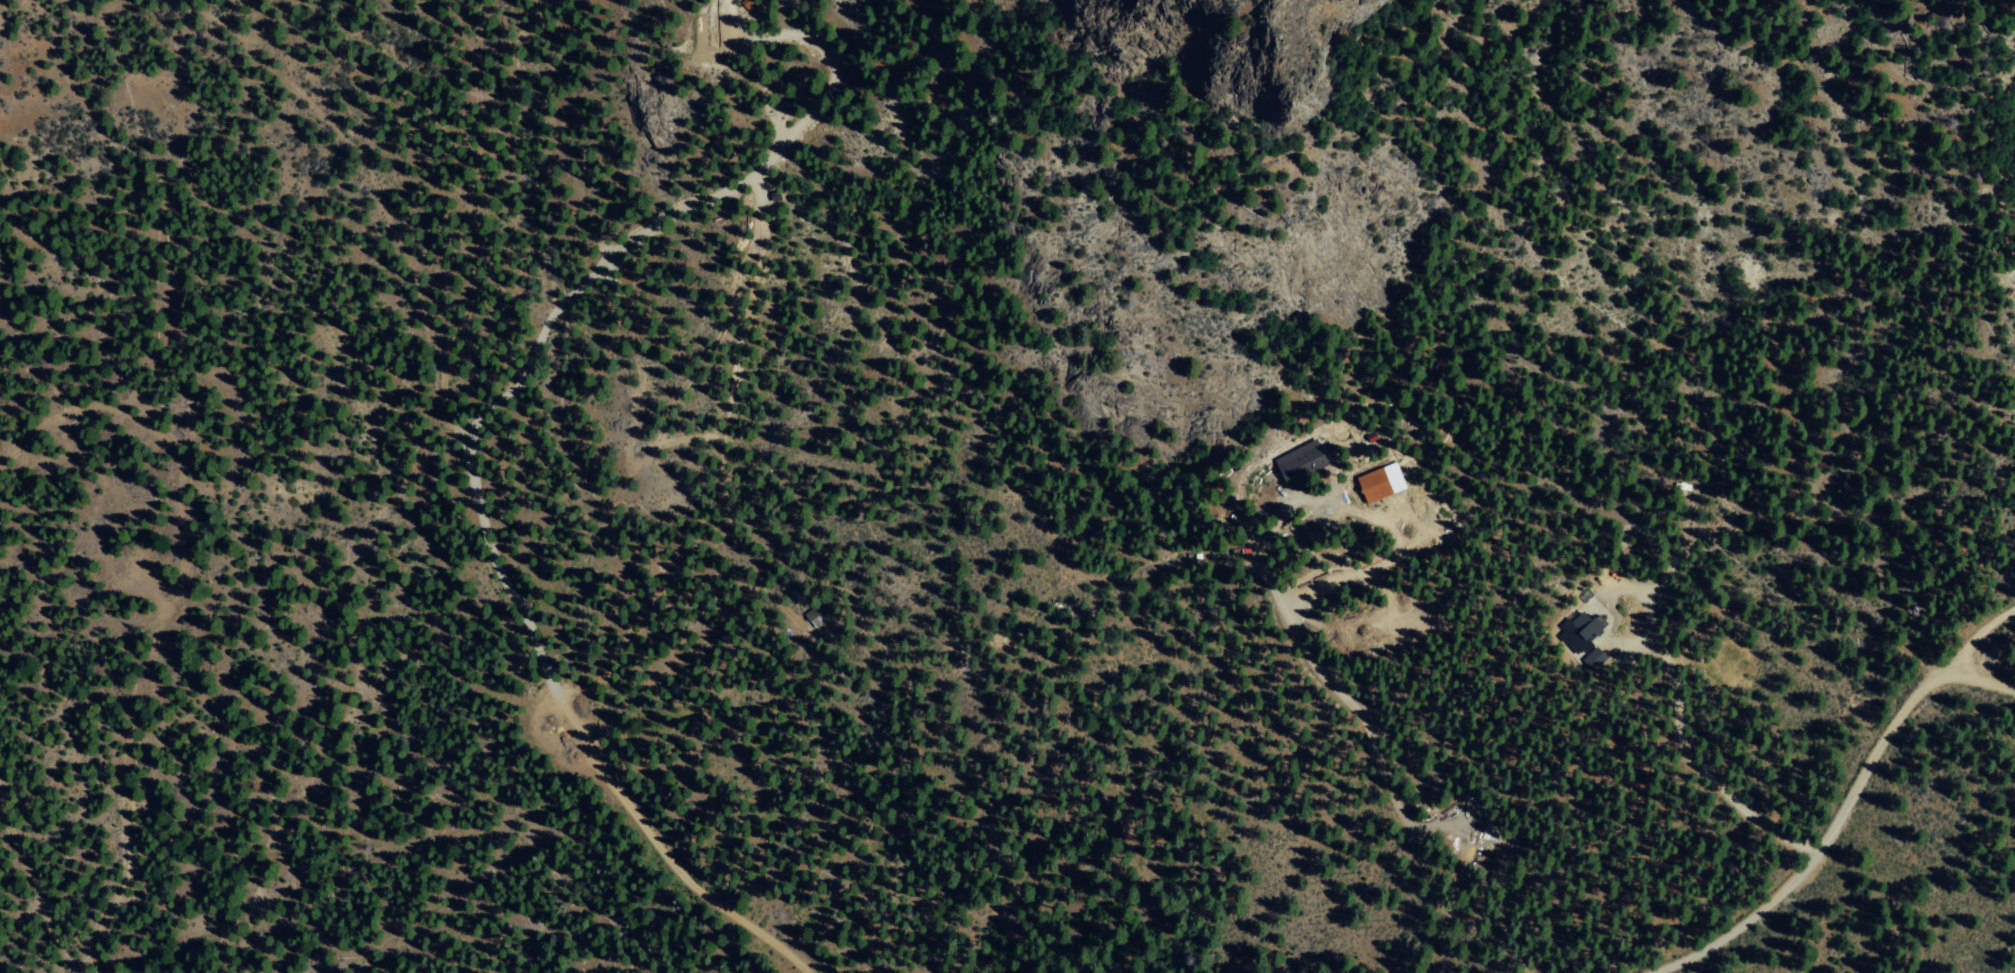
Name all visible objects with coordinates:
building: (1305, 461)
building: (1383, 481)
road: (1821, 836)
crop: (1891, 859)

